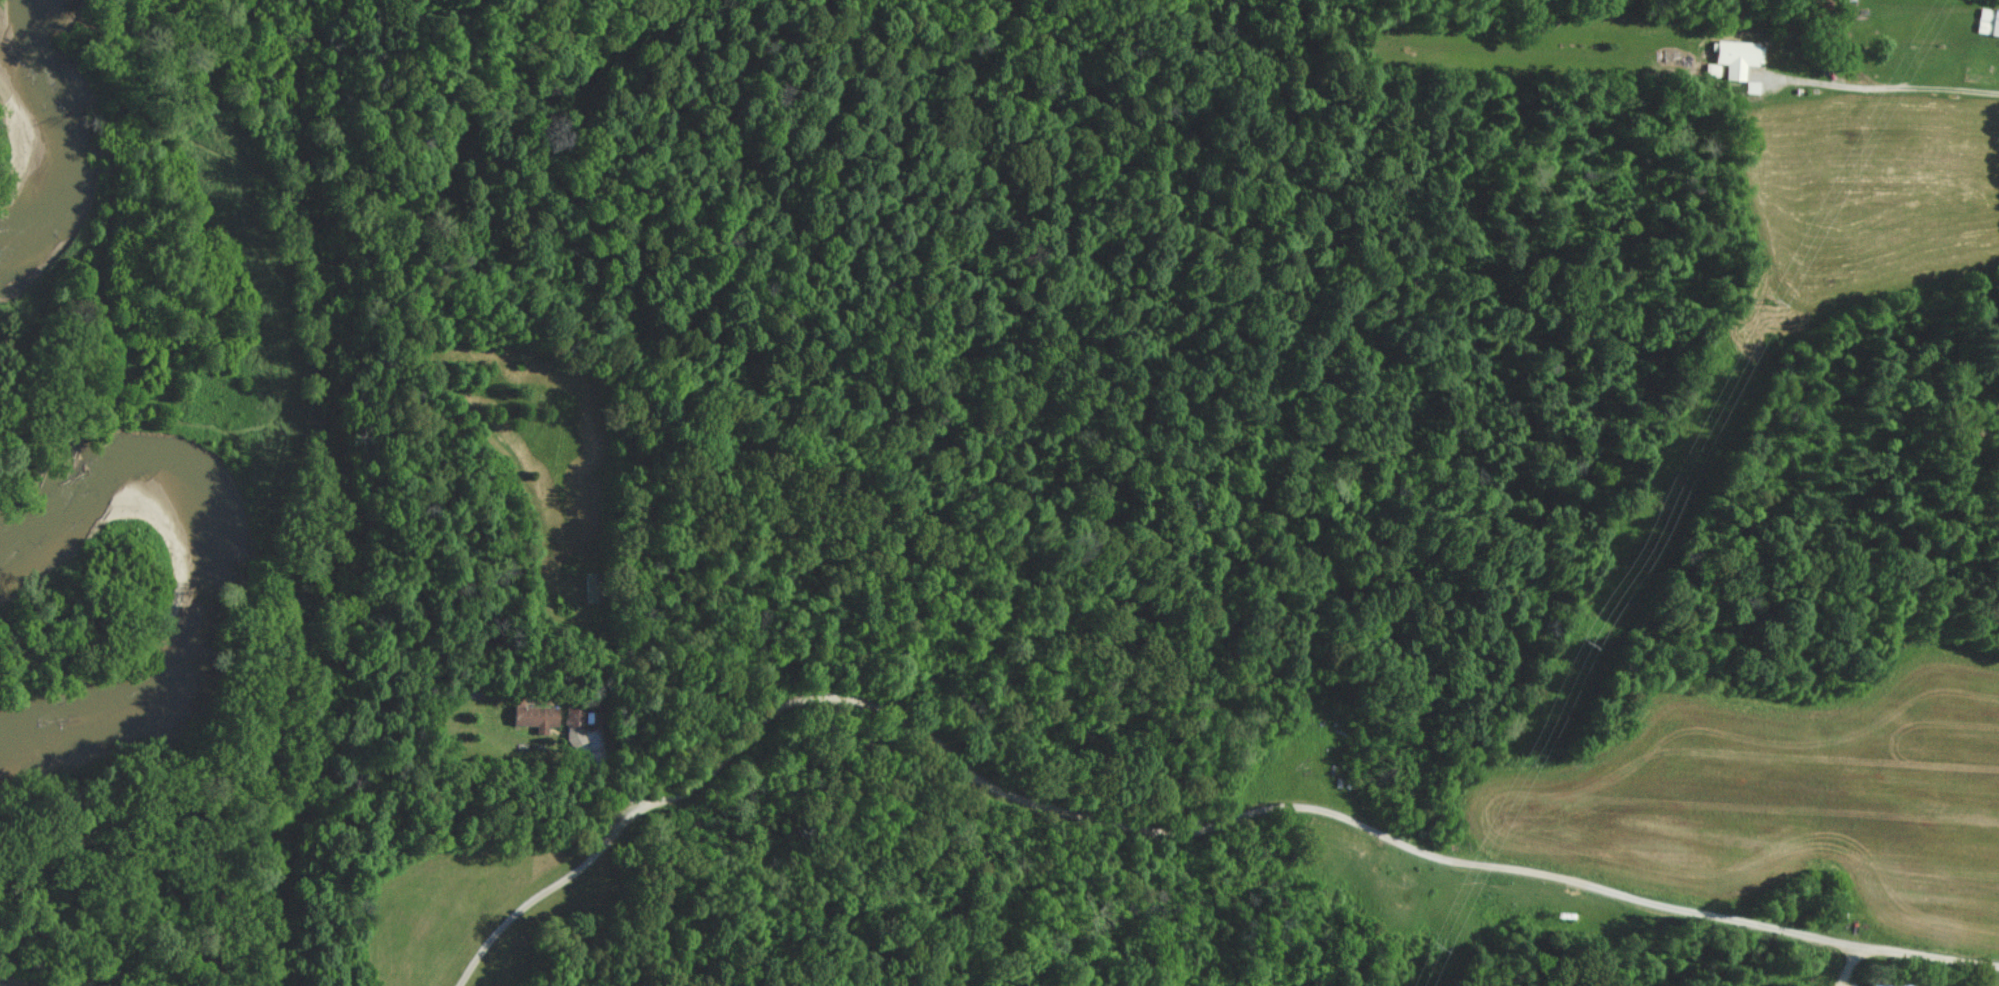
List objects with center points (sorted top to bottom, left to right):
building: (1988, 20)
building: (1735, 55)
road: (1881, 87)
river: (39, 147)
power tower: (1777, 296)
river: (214, 599)
power tower: (1590, 641)
road: (1243, 805)
road: (547, 891)
power tower: (1433, 941)
road: (1848, 964)
building: (1890, 985)

